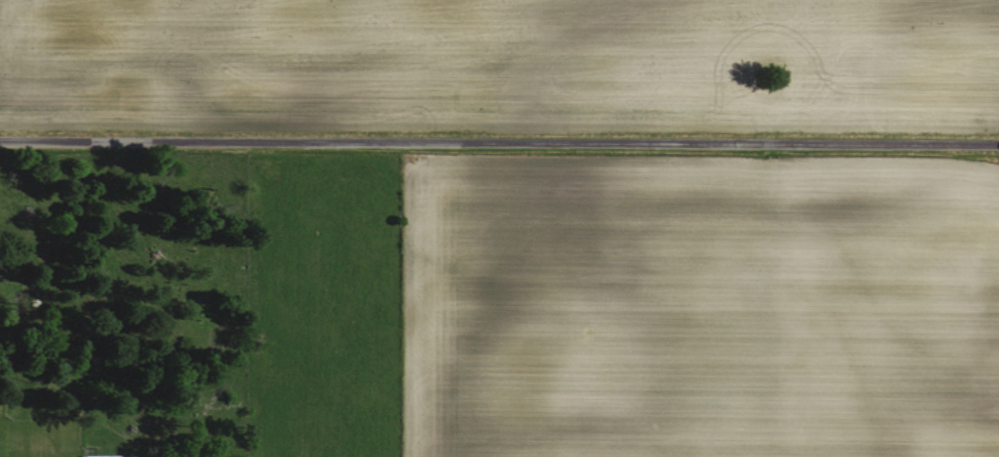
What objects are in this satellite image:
road: (499, 140)
building: (104, 456)

